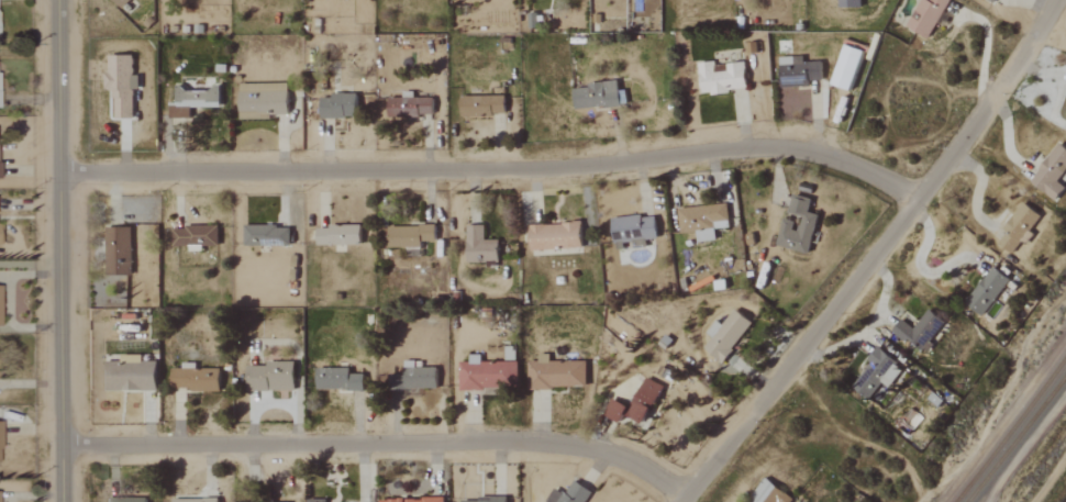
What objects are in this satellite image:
building: (991, 0)
building: (120, 2)
building: (847, 3)
building: (925, 15)
building: (845, 67)
building: (797, 71)
building: (720, 78)
building: (120, 83)
building: (595, 96)
building: (192, 100)
building: (260, 100)
building: (481, 104)
building: (337, 105)
building: (409, 107)
building: (1065, 114)
road: (501, 168)
building: (1051, 172)
building: (806, 225)
building: (1017, 228)
building: (632, 230)
building: (265, 235)
building: (336, 235)
building: (408, 235)
building: (193, 236)
building: (553, 236)
building: (479, 246)
road: (67, 250)
building: (116, 252)
road: (875, 255)
building: (986, 291)
building: (918, 330)
building: (724, 334)
building: (555, 373)
building: (129, 375)
building: (487, 375)
building: (875, 375)
building: (269, 377)
building: (412, 378)
building: (193, 379)
building: (336, 379)
building: (634, 403)
railway: (1011, 431)
railway: (1017, 438)
road: (380, 443)
building: (766, 493)
building: (568, 494)
building: (124, 499)
building: (193, 500)
building: (314, 500)
building: (409, 500)
building: (482, 500)
building: (275, 501)

